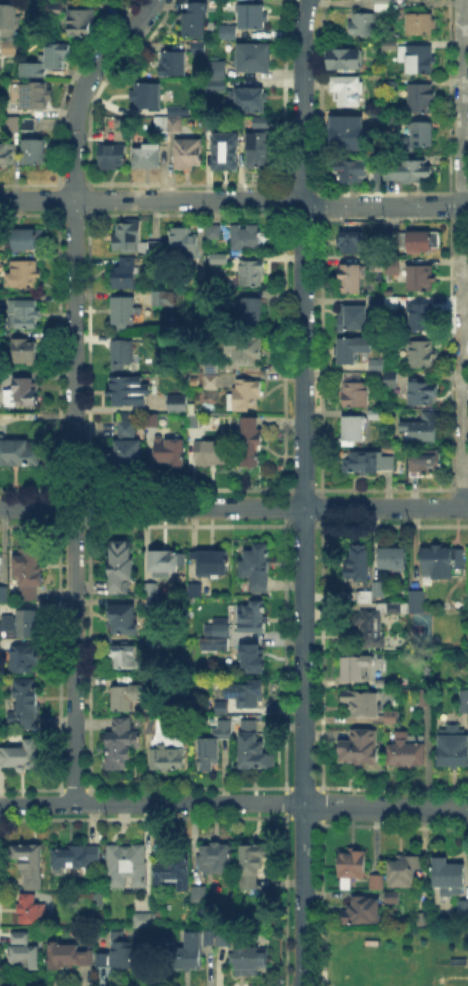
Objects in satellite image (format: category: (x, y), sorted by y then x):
building: (383, 2)
building: (199, 5)
building: (384, 8)
building: (54, 11)
building: (249, 15)
building: (9, 18)
building: (82, 21)
building: (363, 24)
building: (195, 25)
building: (422, 25)
building: (226, 30)
building: (197, 45)
building: (392, 47)
building: (9, 48)
building: (252, 56)
building: (346, 59)
building: (421, 61)
building: (48, 62)
building: (174, 64)
building: (213, 67)
building: (392, 82)
building: (214, 83)
building: (347, 91)
building: (144, 94)
building: (36, 97)
building: (246, 98)
building: (422, 99)
building: (174, 109)
building: (391, 119)
building: (258, 120)
building: (208, 122)
building: (158, 124)
building: (172, 124)
building: (13, 125)
building: (28, 125)
building: (345, 126)
building: (422, 133)
building: (407, 142)
building: (255, 147)
building: (223, 149)
building: (184, 151)
building: (35, 152)
building: (7, 154)
building: (108, 154)
building: (144, 154)
building: (416, 170)
building: (352, 171)
building: (386, 176)
road: (234, 199)
building: (216, 232)
building: (128, 236)
building: (248, 237)
building: (393, 238)
building: (26, 241)
building: (423, 241)
building: (186, 244)
building: (351, 244)
building: (157, 246)
road: (463, 254)
building: (221, 260)
building: (375, 265)
building: (2, 266)
building: (394, 266)
building: (252, 274)
building: (25, 275)
building: (126, 276)
building: (352, 279)
building: (420, 279)
building: (160, 295)
building: (392, 302)
building: (378, 304)
building: (249, 310)
building: (124, 312)
building: (25, 316)
building: (354, 317)
building: (421, 317)
building: (355, 349)
building: (246, 352)
building: (125, 354)
building: (26, 355)
building: (424, 355)
building: (376, 364)
building: (212, 366)
building: (391, 376)
building: (210, 383)
road: (74, 386)
building: (355, 392)
building: (130, 393)
building: (423, 393)
building: (23, 394)
building: (249, 394)
road: (303, 401)
building: (179, 402)
building: (192, 407)
building: (377, 413)
building: (195, 419)
building: (128, 424)
building: (423, 429)
building: (354, 433)
building: (253, 443)
building: (171, 450)
building: (19, 453)
building: (213, 454)
building: (124, 456)
building: (427, 463)
building: (370, 464)
road: (233, 507)
building: (394, 559)
building: (166, 561)
building: (213, 562)
building: (444, 563)
building: (1, 564)
building: (359, 564)
building: (258, 568)
building: (122, 569)
building: (30, 570)
building: (152, 587)
building: (196, 589)
building: (380, 589)
building: (29, 594)
building: (4, 595)
building: (364, 597)
building: (467, 597)
building: (417, 601)
building: (155, 602)
building: (394, 606)
building: (124, 617)
building: (256, 619)
building: (22, 626)
building: (222, 630)
building: (371, 631)
building: (154, 642)
building: (223, 643)
building: (126, 657)
building: (253, 660)
building: (31, 661)
building: (356, 668)
building: (382, 682)
building: (246, 695)
building: (127, 698)
building: (426, 698)
building: (463, 699)
building: (362, 702)
building: (27, 705)
building: (219, 707)
building: (391, 714)
building: (153, 724)
building: (122, 745)
building: (214, 746)
building: (454, 747)
building: (359, 748)
building: (409, 750)
building: (256, 751)
building: (170, 753)
building: (23, 755)
road: (152, 802)
road: (385, 807)
building: (74, 857)
building: (218, 859)
building: (349, 862)
building: (126, 864)
building: (254, 865)
building: (29, 866)
building: (402, 869)
building: (445, 874)
building: (173, 876)
building: (374, 880)
building: (200, 892)
road: (304, 895)
building: (390, 895)
building: (98, 898)
building: (462, 905)
building: (359, 908)
building: (33, 910)
building: (417, 913)
building: (144, 922)
building: (206, 935)
building: (221, 935)
building: (20, 937)
building: (189, 950)
building: (119, 954)
building: (248, 955)
building: (23, 956)
building: (70, 957)
park: (406, 974)

